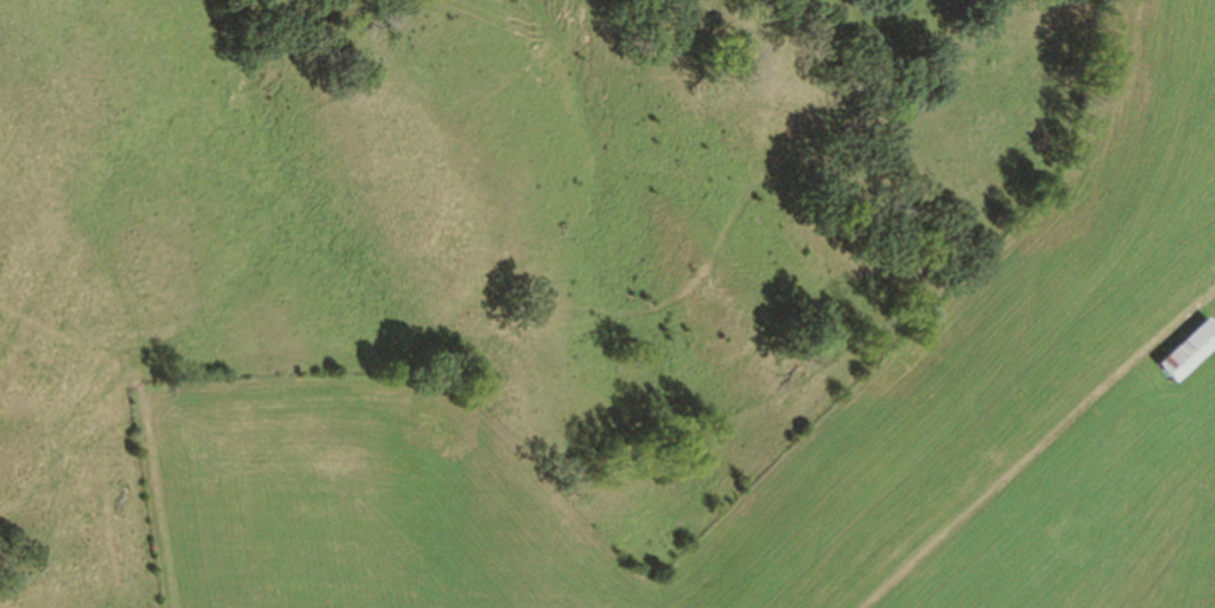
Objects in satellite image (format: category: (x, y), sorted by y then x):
building: (1186, 352)

